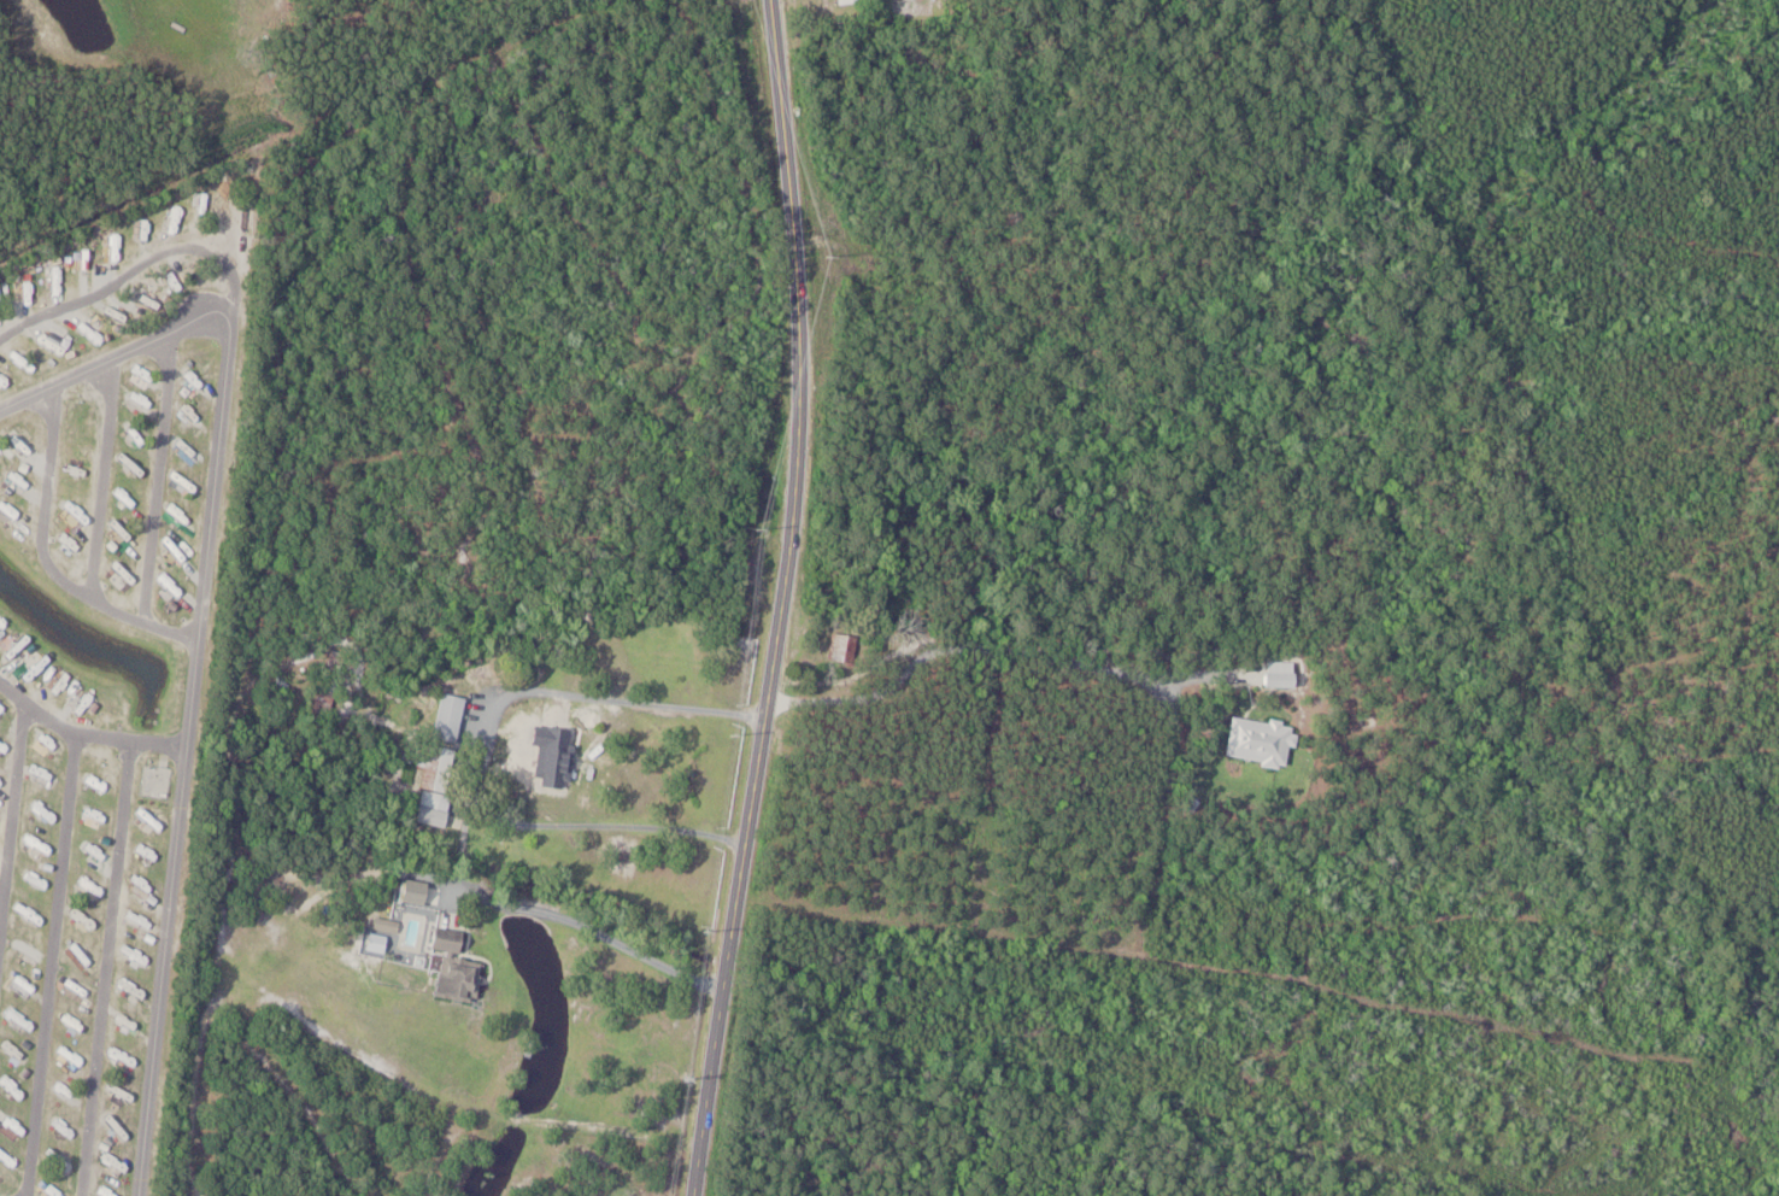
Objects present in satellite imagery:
road: (668, 288)
road: (783, 599)
building: (847, 646)
road: (996, 649)
building: (1288, 673)
building: (454, 716)
building: (1267, 740)
road: (481, 747)
building: (554, 755)
building: (440, 774)
road: (592, 925)
building: (459, 963)
road: (2, 1194)

